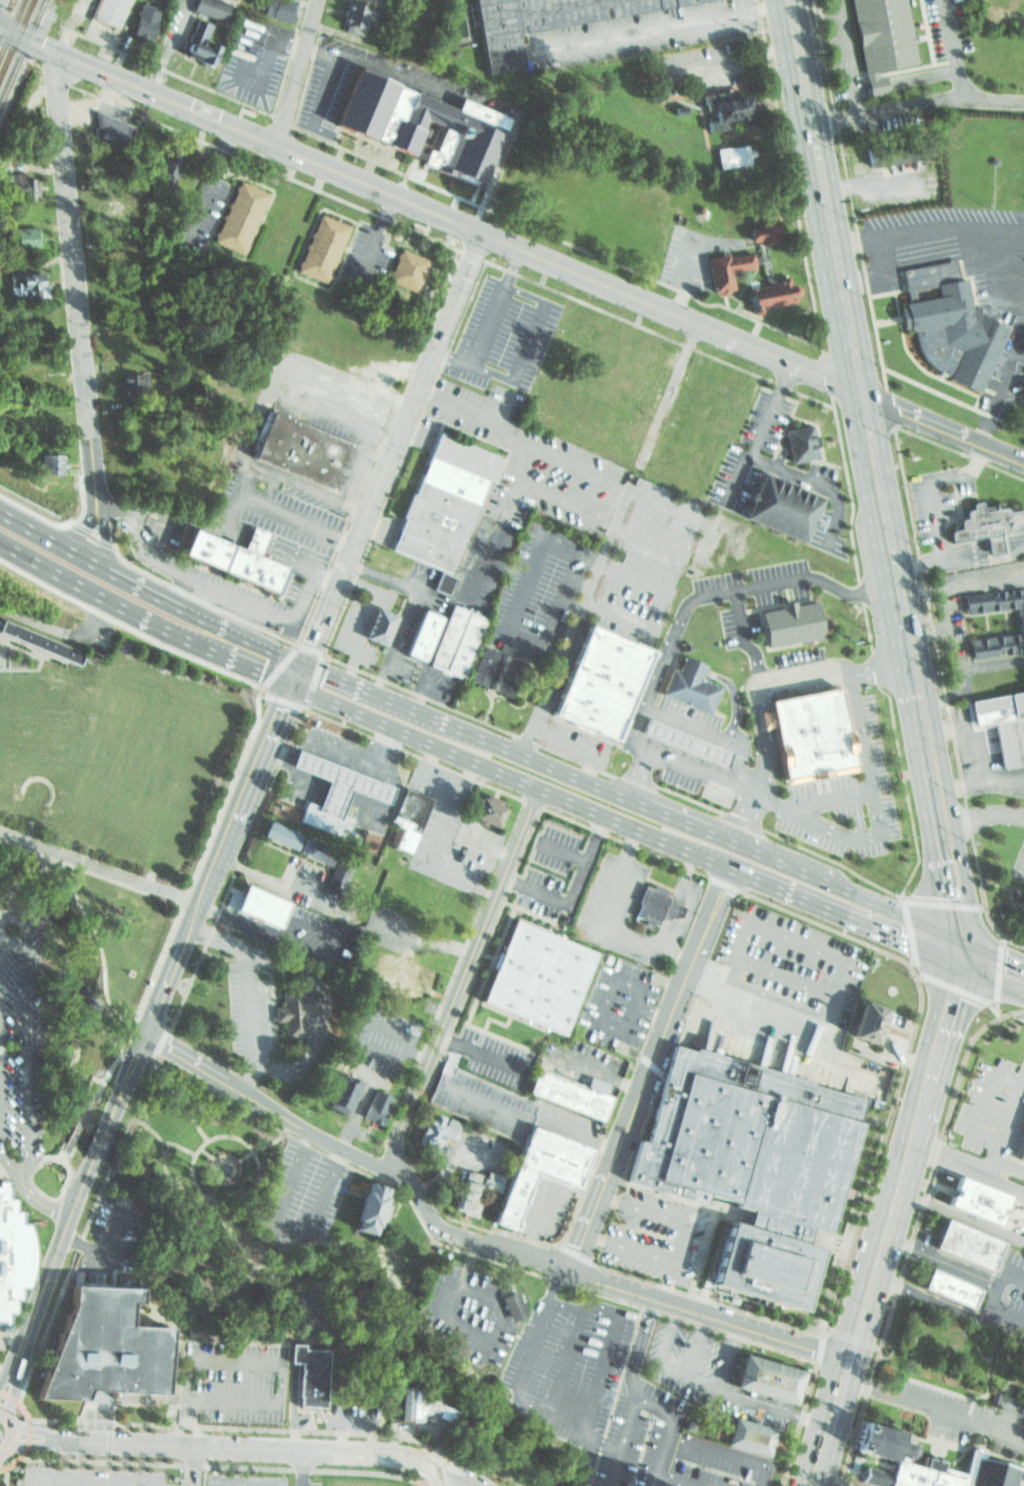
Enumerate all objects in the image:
road: (760, 3)
building: (209, 8)
building: (274, 9)
building: (108, 10)
building: (356, 16)
building: (546, 22)
building: (141, 23)
railway: (12, 29)
road: (647, 32)
building: (879, 33)
railway: (16, 38)
road: (26, 39)
road: (323, 39)
building: (199, 44)
road: (950, 48)
road: (354, 50)
railway: (23, 53)
road: (266, 53)
road: (845, 57)
road: (293, 71)
road: (902, 79)
road: (916, 103)
building: (726, 109)
building: (411, 114)
building: (109, 125)
road: (267, 141)
building: (893, 148)
road: (814, 152)
building: (734, 156)
building: (891, 157)
building: (172, 166)
road: (209, 182)
building: (23, 184)
building: (113, 201)
building: (240, 217)
road: (927, 228)
road: (377, 232)
building: (24, 235)
building: (323, 247)
road: (73, 261)
building: (736, 261)
building: (405, 268)
road: (1009, 270)
building: (27, 282)
road: (600, 282)
road: (456, 293)
building: (947, 324)
road: (487, 327)
road: (525, 340)
road: (851, 348)
road: (789, 361)
building: (35, 374)
road: (1003, 375)
building: (133, 386)
road: (668, 394)
road: (767, 409)
road: (917, 417)
building: (797, 439)
road: (868, 440)
building: (300, 449)
road: (391, 450)
road: (1000, 451)
building: (51, 460)
road: (959, 470)
road: (791, 474)
road: (95, 490)
building: (773, 500)
building: (445, 502)
road: (880, 502)
road: (696, 516)
building: (983, 523)
road: (77, 530)
road: (104, 538)
road: (486, 544)
road: (578, 550)
road: (589, 554)
road: (941, 555)
building: (235, 559)
road: (915, 559)
road: (891, 564)
road: (358, 567)
road: (144, 572)
road: (634, 579)
road: (353, 582)
building: (445, 583)
road: (716, 588)
road: (149, 592)
road: (105, 599)
road: (327, 605)
road: (409, 606)
road: (621, 612)
building: (786, 620)
road: (336, 621)
road: (575, 621)
building: (373, 623)
building: (1019, 624)
road: (353, 625)
road: (57, 629)
building: (417, 633)
road: (736, 634)
road: (892, 637)
building: (451, 638)
building: (41, 640)
traffic signals: (312, 643)
road: (310, 649)
road: (22, 650)
road: (335, 659)
building: (490, 666)
road: (352, 667)
road: (253, 669)
road: (872, 669)
road: (783, 671)
traffic signals: (262, 673)
traffic signals: (326, 673)
road: (368, 673)
road: (298, 674)
road: (381, 678)
building: (598, 681)
building: (684, 683)
street lamp: (50, 686)
road: (399, 687)
road: (373, 693)
road: (419, 694)
road: (421, 696)
road: (490, 703)
traffic signals: (284, 708)
street lamp: (89, 716)
road: (472, 717)
building: (998, 723)
building: (805, 727)
street lamp: (22, 731)
road: (567, 737)
building: (679, 739)
road: (387, 746)
road: (351, 752)
road: (280, 755)
road: (305, 759)
road: (242, 760)
road: (261, 760)
road: (430, 760)
road: (535, 760)
road: (299, 762)
road: (303, 766)
road: (635, 772)
road: (503, 773)
road: (945, 775)
road: (466, 776)
road: (714, 776)
road: (986, 781)
road: (307, 782)
building: (341, 783)
gas station: (341, 783)
street lamp: (13, 785)
road: (380, 791)
street lamp: (59, 792)
road: (337, 794)
road: (827, 795)
road: (922, 799)
road: (366, 805)
building: (490, 810)
road: (988, 810)
building: (412, 815)
building: (326, 821)
road: (439, 839)
road: (848, 839)
road: (729, 841)
road: (486, 843)
building: (304, 848)
road: (560, 849)
road: (656, 856)
road: (215, 869)
road: (99, 870)
building: (340, 877)
park: (86, 879)
road: (282, 886)
road: (567, 889)
road: (678, 898)
traffic signals: (941, 898)
road: (941, 903)
building: (652, 905)
building: (265, 907)
road: (890, 909)
road: (837, 914)
road: (12, 918)
road: (600, 918)
road: (310, 922)
road: (269, 931)
road: (481, 931)
road: (909, 933)
road: (962, 939)
road: (423, 942)
traffic signals: (905, 942)
road: (955, 949)
road: (99, 954)
road: (1000, 954)
road: (970, 955)
traffic signals: (1007, 958)
road: (844, 962)
road: (173, 968)
road: (710, 970)
building: (535, 973)
building: (407, 977)
road: (998, 977)
road: (993, 979)
road: (640, 987)
road: (960, 990)
road: (250, 993)
road: (776, 998)
traffic signals: (953, 999)
road: (327, 1010)
building: (296, 1011)
road: (673, 1011)
road: (318, 1014)
road: (651, 1014)
road: (310, 1016)
building: (870, 1019)
road: (945, 1022)
road: (407, 1036)
road: (478, 1052)
road: (23, 1053)
road: (416, 1054)
road: (604, 1075)
road: (126, 1078)
road: (1022, 1083)
building: (343, 1090)
building: (564, 1090)
building: (380, 1106)
road: (510, 1110)
road: (401, 1120)
road: (144, 1124)
road: (77, 1126)
road: (967, 1128)
building: (438, 1131)
road: (914, 1134)
road: (99, 1142)
road: (247, 1145)
building: (1019, 1145)
road: (208, 1154)
road: (107, 1155)
road: (453, 1156)
road: (226, 1157)
road: (243, 1157)
road: (990, 1159)
building: (748, 1161)
road: (1007, 1164)
road: (7, 1166)
building: (540, 1169)
fountain: (225, 1170)
road: (967, 1171)
road: (192, 1179)
road: (214, 1190)
building: (477, 1190)
road: (43, 1193)
building: (966, 1195)
road: (37, 1203)
building: (371, 1210)
road: (592, 1212)
road: (961, 1216)
road: (539, 1223)
road: (570, 1228)
road: (908, 1230)
road: (283, 1238)
building: (955, 1240)
road: (472, 1241)
road: (679, 1245)
road: (459, 1249)
road: (577, 1254)
road: (290, 1255)
building: (12, 1256)
road: (104, 1256)
road: (940, 1261)
road: (467, 1263)
road: (52, 1264)
park: (352, 1271)
road: (874, 1274)
river: (169, 1275)
road: (667, 1282)
building: (940, 1282)
road: (707, 1298)
road: (988, 1299)
road: (50, 1300)
road: (444, 1306)
building: (509, 1306)
road: (310, 1319)
building: (93, 1342)
road: (637, 1349)
road: (297, 1352)
road: (277, 1363)
road: (565, 1366)
road: (672, 1367)
building: (310, 1375)
building: (770, 1375)
road: (7, 1378)
road: (701, 1379)
road: (10, 1394)
road: (741, 1396)
road: (295, 1404)
building: (424, 1405)
road: (934, 1411)
road: (667, 1412)
road: (3, 1416)
road: (354, 1419)
road: (8, 1422)
road: (185, 1422)
road: (831, 1422)
road: (588, 1424)
road: (26, 1431)
road: (251, 1431)
road: (32, 1432)
road: (9, 1438)
building: (752, 1439)
road: (604, 1441)
building: (880, 1441)
road: (31, 1443)
road: (248, 1447)
road: (581, 1449)
road: (724, 1456)
road: (466, 1460)
road: (110, 1463)
road: (191, 1465)
road: (301, 1467)
road: (617, 1467)
road: (299, 1469)
building: (989, 1472)
road: (4, 1476)
road: (464, 1476)
road: (90, 1477)
road: (452, 1477)
building: (909, 1477)
road: (436, 1478)
road: (483, 1478)
road: (246, 1480)
road: (72, 1481)
road: (112, 1482)
road: (656, 1485)

